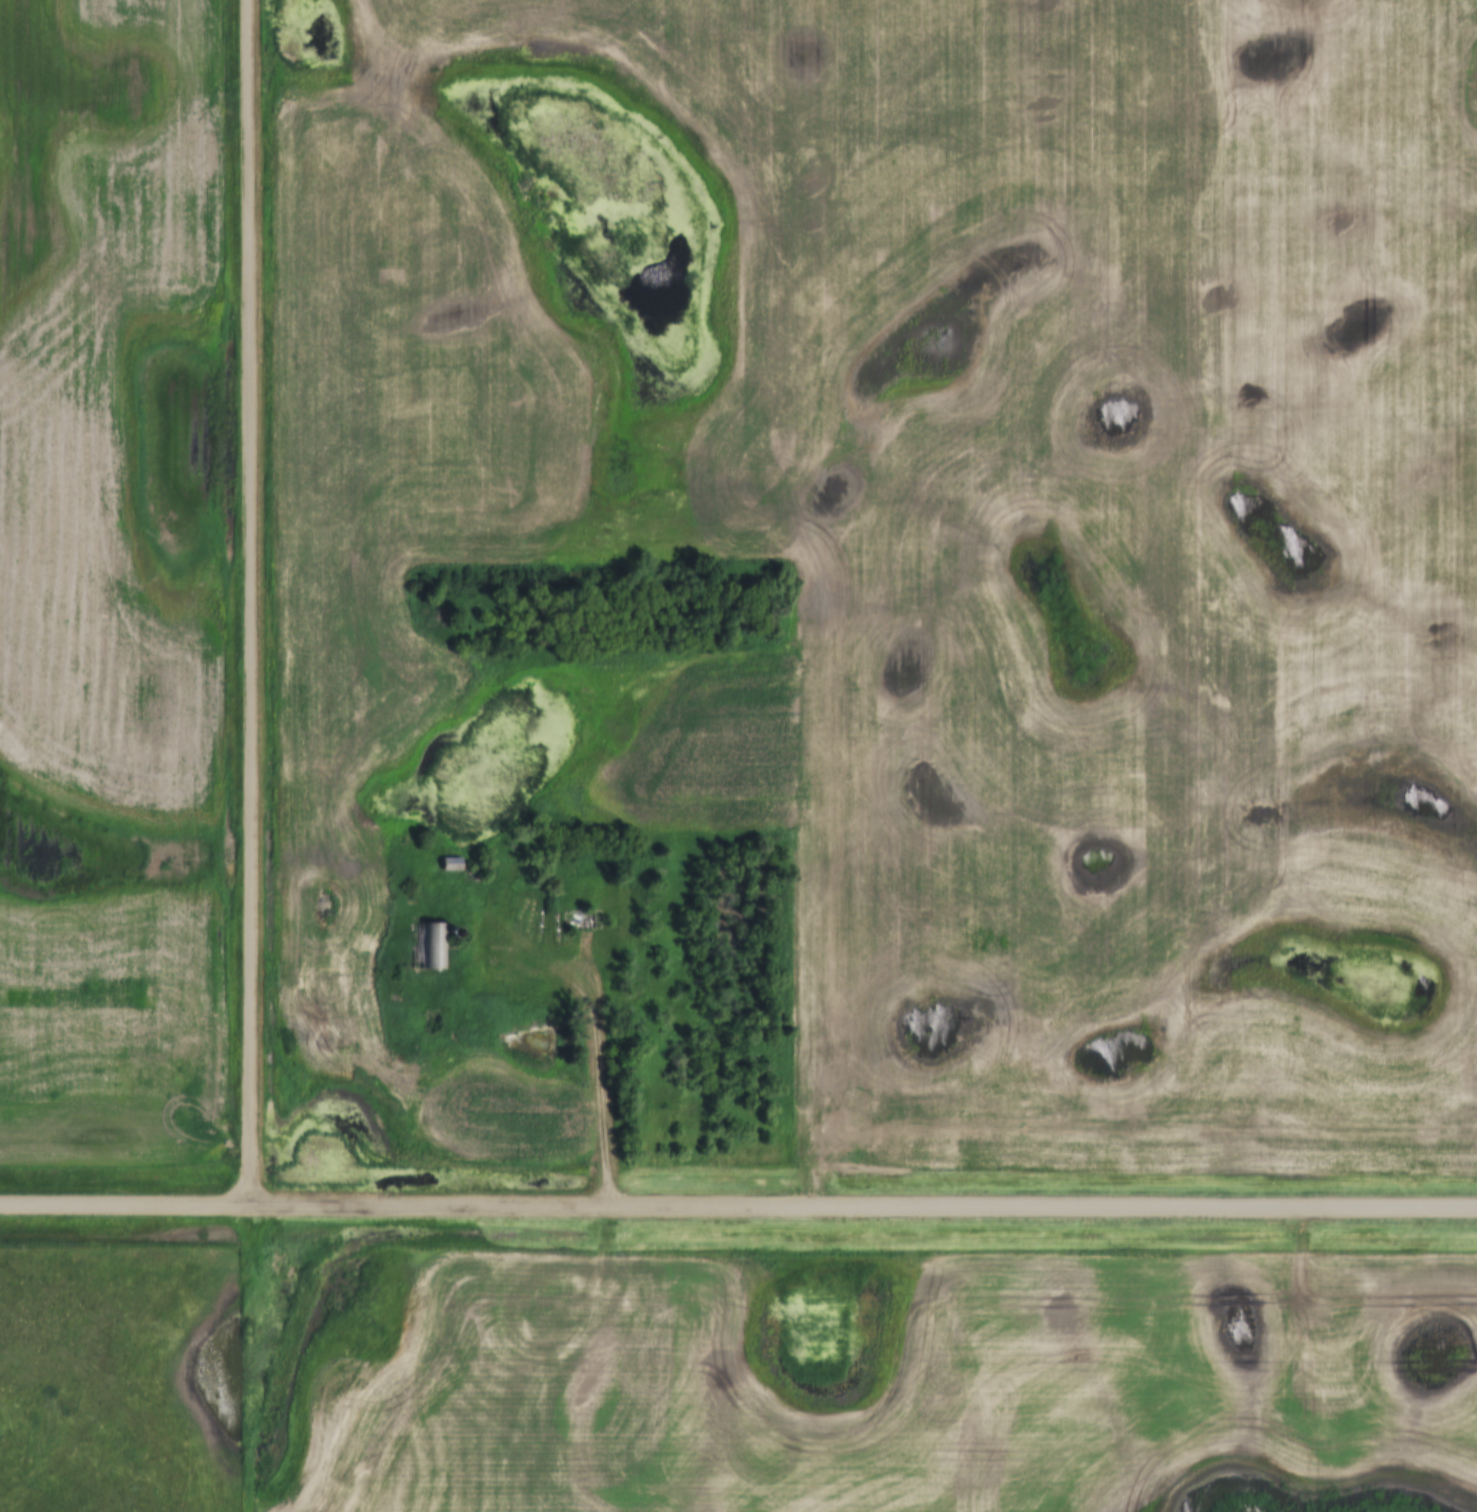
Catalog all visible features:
road: (248, 602)
building: (448, 864)
building: (424, 947)
road: (738, 1207)
road: (256, 1358)

